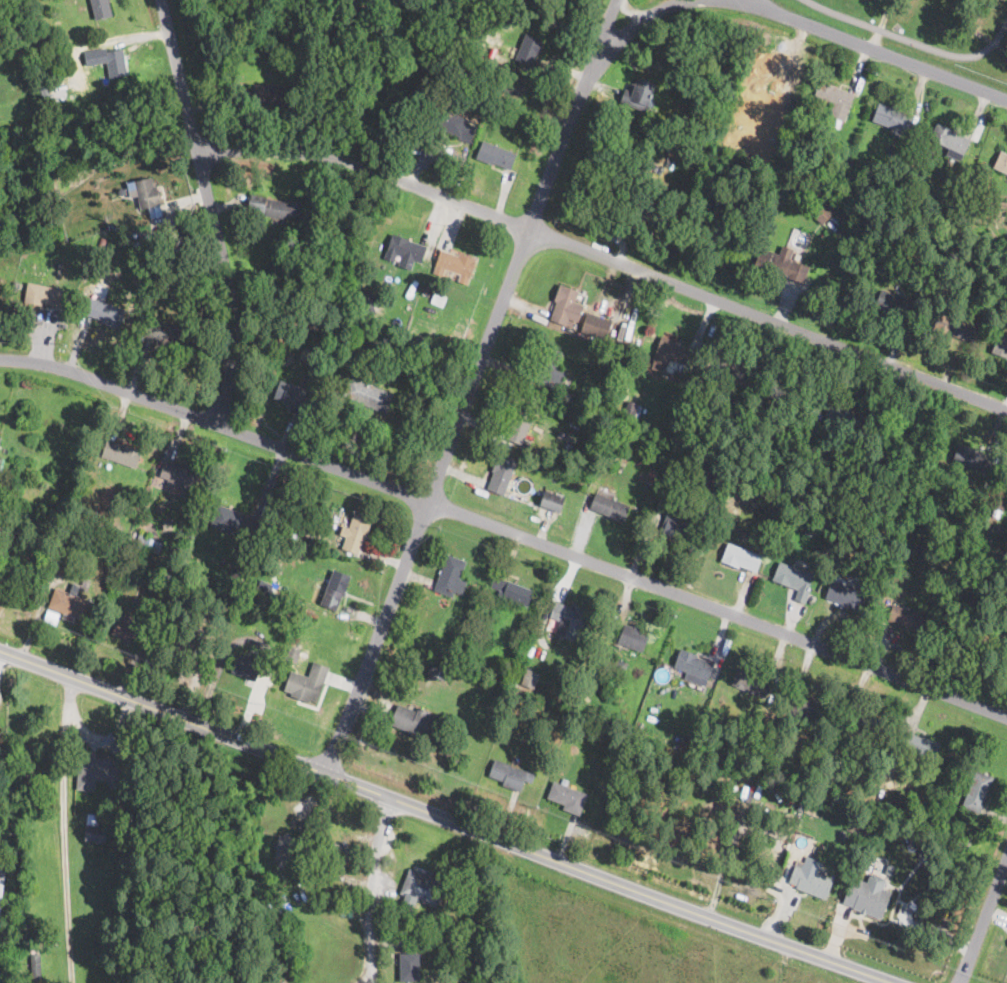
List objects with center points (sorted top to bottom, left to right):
building: (20, 0)
building: (101, 9)
road: (800, 23)
road: (881, 24)
road: (912, 39)
building: (32, 45)
building: (529, 49)
building: (72, 52)
building: (116, 63)
building: (478, 64)
building: (153, 79)
building: (512, 86)
building: (266, 92)
building: (638, 92)
building: (47, 101)
building: (505, 101)
building: (834, 101)
building: (672, 115)
building: (892, 117)
building: (450, 121)
building: (951, 141)
building: (827, 143)
building: (891, 148)
building: (835, 149)
building: (496, 155)
building: (648, 162)
building: (1002, 162)
building: (812, 167)
building: (873, 171)
building: (147, 193)
road: (216, 208)
building: (281, 208)
building: (826, 208)
building: (652, 211)
building: (950, 221)
building: (102, 243)
building: (405, 251)
road: (607, 259)
building: (454, 263)
building: (781, 264)
building: (968, 278)
building: (267, 281)
building: (15, 284)
building: (411, 287)
building: (427, 289)
building: (43, 294)
building: (438, 298)
building: (369, 302)
building: (894, 303)
building: (564, 305)
building: (105, 312)
building: (426, 319)
building: (596, 326)
building: (952, 326)
building: (165, 333)
building: (1000, 344)
building: (673, 352)
building: (551, 369)
building: (737, 370)
road: (470, 385)
building: (368, 394)
building: (290, 395)
building: (592, 396)
building: (633, 410)
building: (840, 422)
building: (519, 424)
building: (0, 439)
building: (666, 441)
building: (619, 448)
building: (121, 452)
building: (971, 458)
building: (814, 464)
building: (501, 474)
building: (178, 475)
building: (651, 475)
building: (667, 484)
building: (815, 486)
building: (9, 488)
building: (552, 501)
building: (610, 508)
building: (996, 511)
building: (112, 514)
building: (282, 521)
building: (236, 523)
building: (677, 526)
road: (505, 530)
building: (355, 533)
building: (74, 536)
building: (84, 541)
building: (144, 541)
building: (74, 548)
building: (740, 557)
building: (238, 571)
building: (450, 575)
building: (199, 580)
building: (795, 580)
building: (335, 589)
building: (92, 590)
building: (512, 591)
building: (845, 595)
building: (137, 603)
building: (72, 606)
building: (286, 613)
building: (570, 614)
building: (908, 618)
building: (127, 628)
building: (643, 629)
building: (283, 635)
building: (633, 638)
building: (1002, 645)
building: (187, 646)
building: (445, 650)
building: (587, 651)
building: (444, 655)
building: (452, 655)
road: (2, 657)
building: (291, 657)
building: (693, 664)
building: (618, 666)
building: (245, 667)
building: (433, 672)
building: (443, 674)
building: (597, 675)
building: (528, 678)
building: (751, 681)
building: (307, 682)
building: (619, 685)
building: (806, 705)
building: (416, 722)
building: (863, 722)
building: (740, 725)
building: (682, 741)
building: (567, 742)
building: (918, 746)
building: (95, 771)
building: (510, 775)
building: (565, 781)
building: (977, 791)
building: (567, 797)
building: (798, 803)
building: (898, 805)
building: (83, 815)
road: (445, 817)
building: (854, 827)
road: (63, 830)
building: (95, 831)
building: (285, 847)
building: (338, 856)
building: (890, 868)
road: (881, 873)
road: (909, 873)
building: (266, 875)
building: (809, 879)
building: (2, 882)
road: (370, 888)
building: (419, 891)
building: (868, 896)
road: (902, 900)
road: (911, 903)
building: (348, 912)
building: (274, 913)
road: (947, 917)
road: (889, 919)
road: (896, 919)
road: (983, 919)
road: (860, 921)
building: (276, 924)
building: (270, 929)
building: (454, 931)
road: (854, 931)
road: (837, 932)
road: (946, 935)
building: (409, 966)
building: (35, 968)
road: (880, 981)

